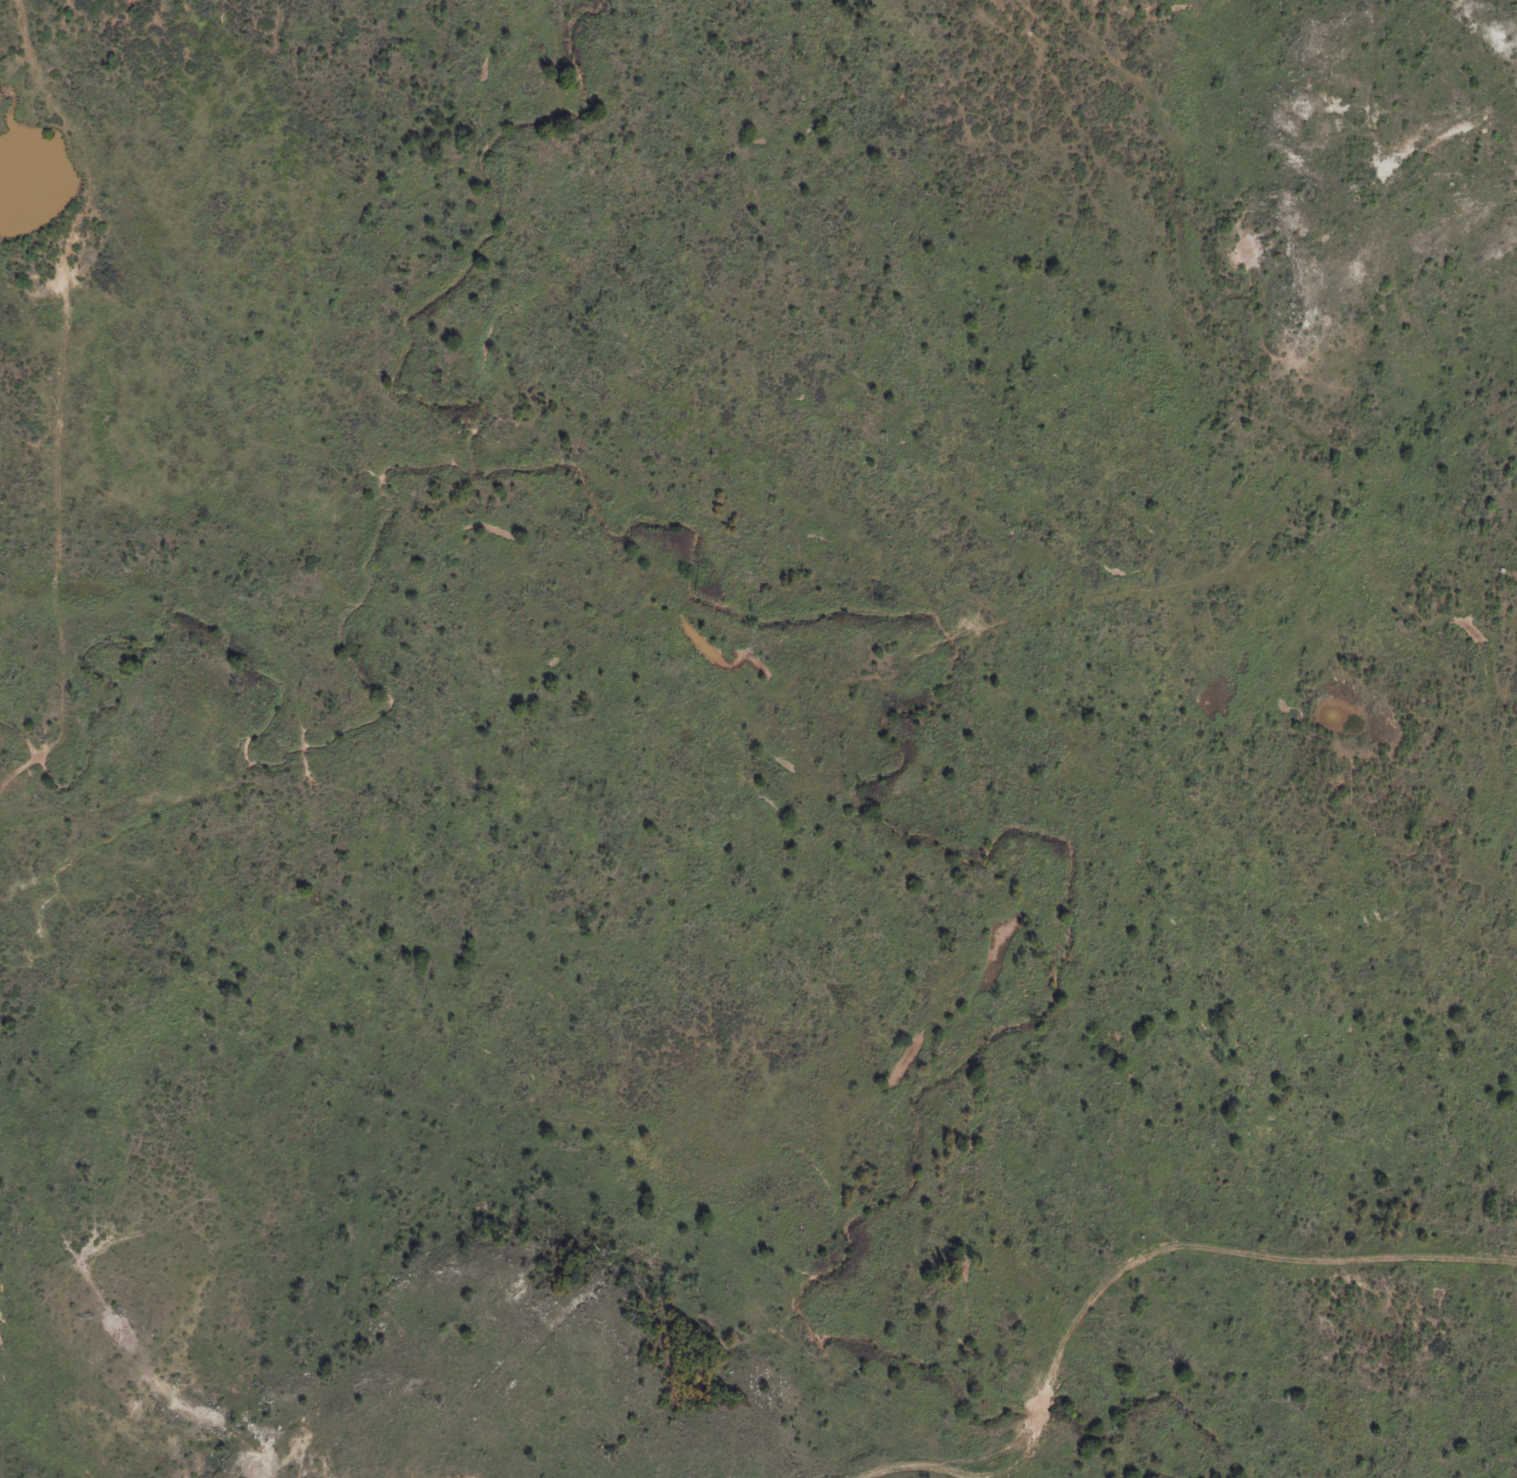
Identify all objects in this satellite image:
road: (1443, 145)
road: (746, 703)

